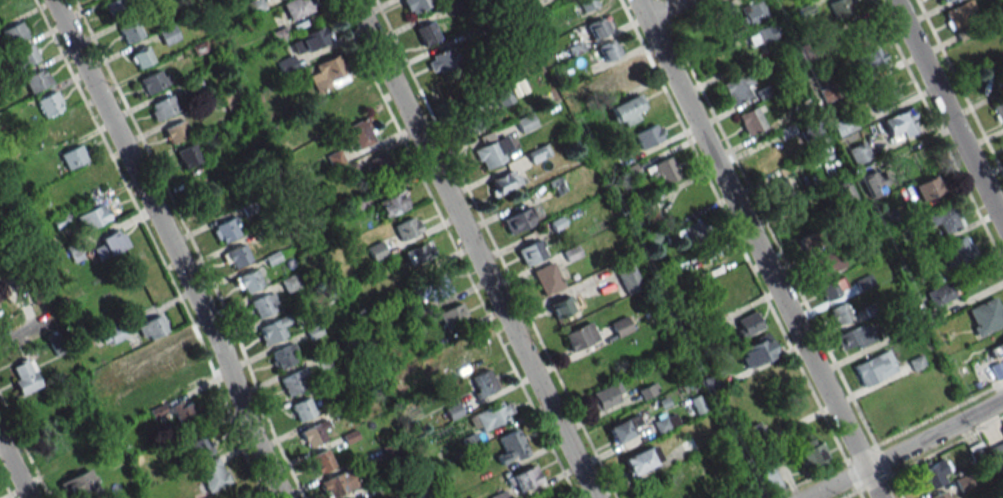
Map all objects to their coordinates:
building: (519, 0)
building: (943, 0)
building: (416, 4)
building: (586, 4)
building: (115, 7)
building: (839, 7)
building: (297, 8)
road: (667, 8)
building: (752, 11)
building: (961, 14)
building: (600, 26)
building: (129, 31)
building: (426, 32)
building: (14, 33)
building: (760, 35)
building: (857, 36)
building: (311, 40)
building: (609, 49)
building: (24, 56)
building: (140, 57)
building: (440, 61)
building: (870, 61)
building: (287, 65)
building: (328, 74)
building: (623, 75)
building: (36, 80)
building: (154, 80)
building: (738, 87)
building: (882, 94)
building: (502, 96)
building: (347, 99)
building: (49, 104)
building: (162, 107)
building: (626, 110)
building: (998, 111)
road: (948, 112)
building: (469, 115)
building: (751, 121)
building: (900, 124)
building: (59, 130)
building: (176, 131)
building: (299, 133)
building: (361, 133)
building: (648, 135)
building: (491, 152)
building: (859, 152)
building: (538, 153)
building: (187, 155)
building: (72, 156)
building: (334, 158)
building: (379, 161)
building: (628, 165)
building: (663, 169)
building: (504, 182)
building: (874, 183)
building: (929, 187)
building: (844, 196)
building: (391, 203)
building: (93, 217)
building: (943, 218)
building: (517, 220)
building: (407, 227)
building: (226, 230)
building: (692, 231)
building: (810, 243)
building: (108, 244)
road: (175, 246)
road: (760, 248)
road: (473, 249)
building: (960, 249)
building: (376, 250)
building: (531, 252)
building: (418, 254)
building: (235, 256)
building: (717, 260)
building: (828, 263)
building: (627, 276)
building: (547, 278)
building: (248, 281)
building: (435, 286)
building: (833, 287)
building: (938, 294)
building: (265, 304)
building: (561, 306)
building: (839, 313)
building: (986, 315)
building: (453, 317)
building: (749, 323)
building: (620, 326)
building: (151, 328)
road: (24, 330)
building: (272, 330)
building: (111, 335)
building: (580, 336)
building: (854, 337)
building: (1000, 347)
building: (755, 351)
building: (164, 354)
building: (283, 356)
building: (463, 361)
building: (123, 366)
building: (874, 368)
building: (23, 376)
building: (293, 381)
building: (483, 386)
building: (648, 390)
building: (605, 396)
building: (124, 402)
building: (697, 404)
building: (744, 406)
building: (302, 409)
building: (176, 412)
building: (490, 416)
building: (665, 422)
building: (624, 428)
building: (315, 433)
building: (754, 433)
building: (470, 441)
building: (200, 446)
building: (510, 447)
road: (905, 449)
building: (997, 453)
building: (641, 459)
building: (321, 460)
road: (13, 470)
building: (212, 473)
building: (931, 475)
building: (523, 478)
building: (693, 479)
building: (769, 480)
building: (337, 483)
building: (78, 484)
building: (419, 494)
building: (498, 495)
building: (940, 495)

